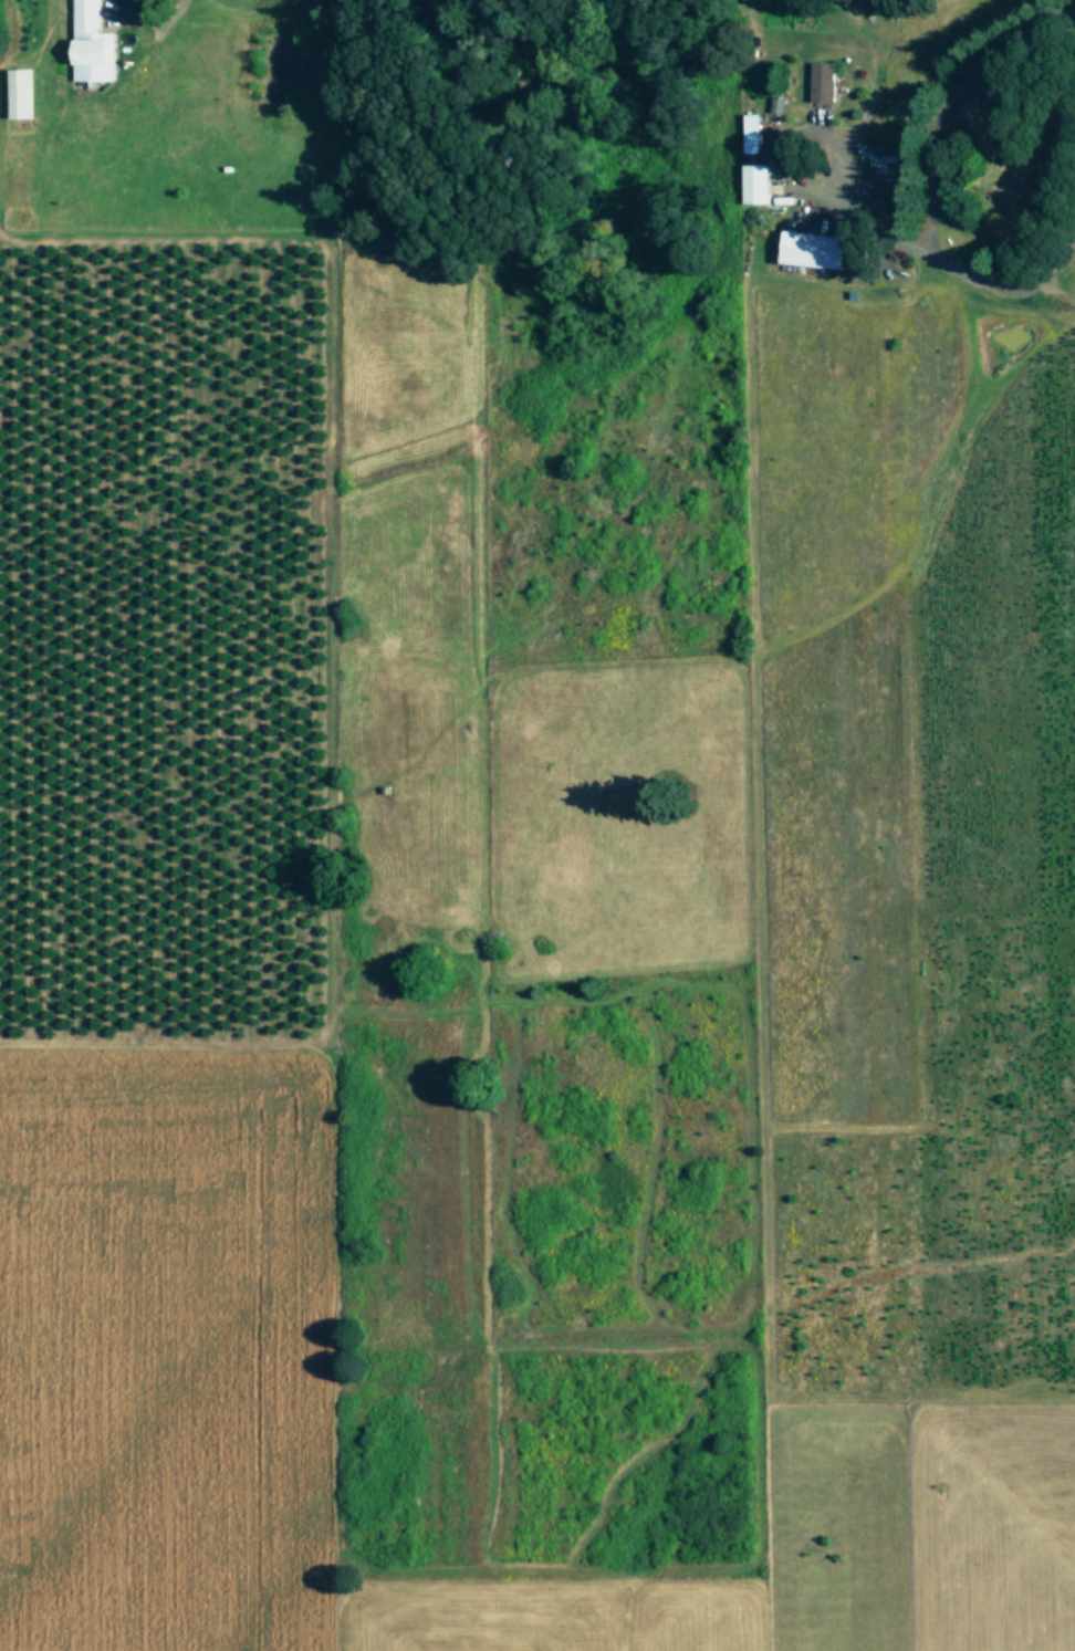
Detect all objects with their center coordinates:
road: (147, 17)
building: (94, 43)
building: (825, 80)
building: (22, 92)
building: (754, 132)
building: (760, 182)
road: (931, 252)

